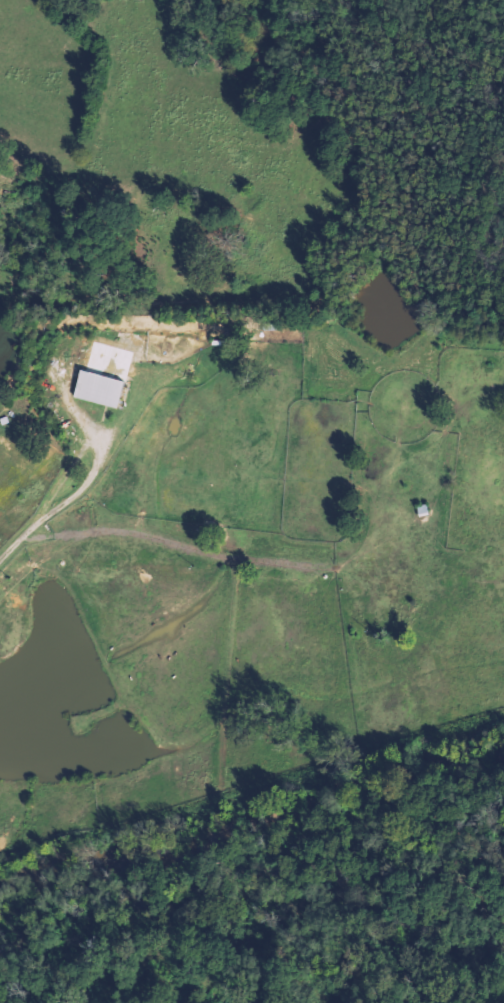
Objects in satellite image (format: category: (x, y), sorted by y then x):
building: (100, 378)

